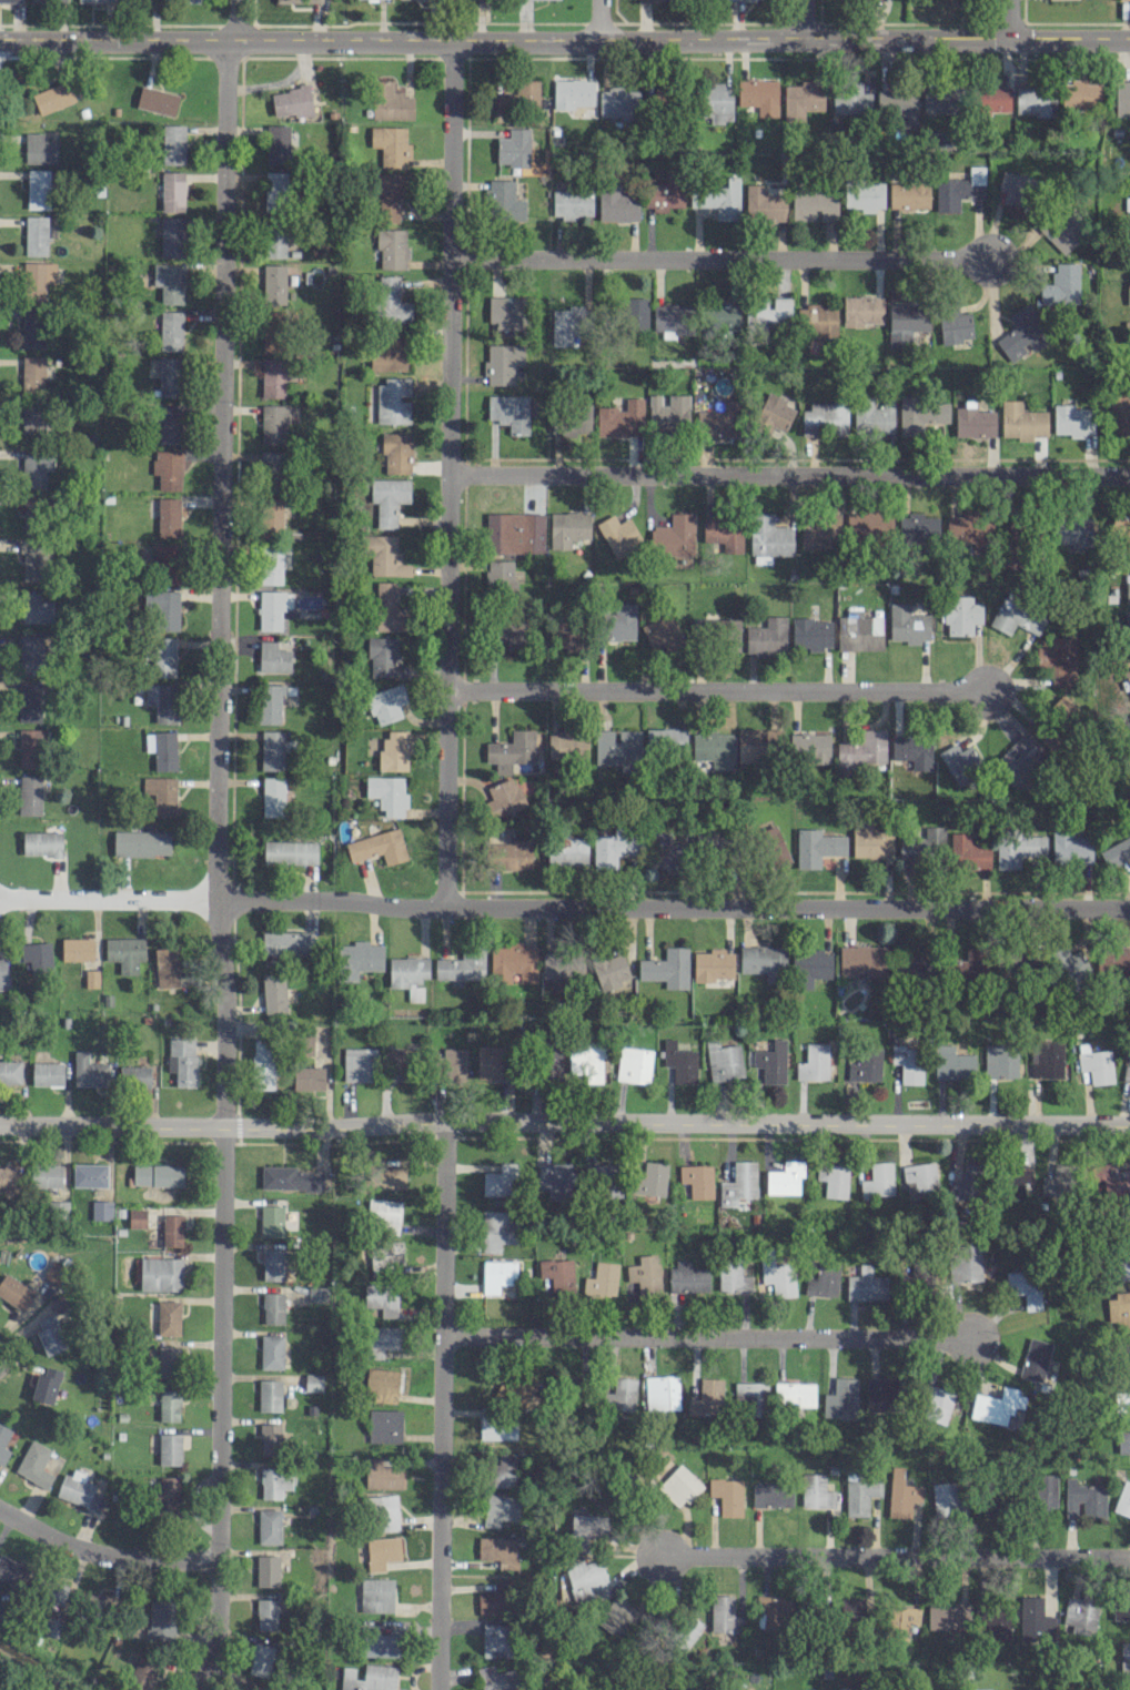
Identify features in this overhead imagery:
building: (10, 0)
building: (47, 0)
building: (93, 0)
building: (300, 0)
building: (649, 0)
building: (190, 1)
road: (1008, 20)
road: (234, 21)
road: (598, 21)
road: (807, 21)
road: (565, 42)
building: (574, 92)
building: (1080, 94)
building: (758, 95)
building: (52, 97)
building: (849, 98)
building: (990, 98)
building: (516, 99)
building: (803, 99)
building: (157, 100)
building: (616, 100)
building: (1035, 100)
building: (291, 101)
building: (390, 101)
building: (716, 101)
building: (938, 101)
building: (898, 105)
building: (172, 143)
building: (278, 143)
building: (391, 144)
building: (39, 149)
building: (514, 149)
building: (38, 189)
building: (959, 189)
building: (1016, 189)
building: (172, 191)
building: (275, 191)
building: (663, 192)
building: (908, 194)
building: (390, 195)
building: (864, 195)
building: (718, 199)
building: (504, 201)
building: (572, 203)
building: (616, 203)
building: (764, 203)
building: (1061, 230)
building: (36, 234)
building: (171, 236)
building: (391, 247)
road: (717, 260)
building: (37, 279)
building: (169, 282)
building: (274, 283)
building: (1061, 284)
building: (1128, 294)
building: (391, 301)
building: (862, 310)
building: (506, 312)
building: (767, 312)
building: (635, 313)
building: (720, 314)
building: (672, 318)
building: (817, 320)
building: (905, 322)
building: (567, 324)
building: (954, 324)
building: (33, 328)
building: (170, 330)
building: (1021, 333)
building: (271, 337)
building: (387, 354)
building: (502, 362)
building: (32, 374)
building: (275, 375)
building: (169, 376)
building: (392, 401)
building: (668, 411)
building: (509, 412)
building: (773, 413)
building: (1120, 413)
building: (872, 414)
building: (921, 414)
building: (621, 418)
building: (825, 418)
building: (569, 419)
building: (717, 419)
building: (1073, 419)
building: (973, 421)
building: (1022, 421)
building: (32, 423)
building: (168, 423)
building: (273, 423)
building: (396, 452)
building: (36, 467)
building: (168, 467)
building: (271, 468)
road: (447, 474)
road: (789, 475)
building: (389, 498)
building: (30, 512)
building: (271, 514)
building: (168, 516)
building: (868, 523)
building: (1121, 525)
building: (918, 527)
building: (567, 528)
building: (969, 529)
building: (1071, 529)
building: (819, 530)
building: (515, 533)
building: (723, 533)
building: (619, 535)
building: (674, 535)
building: (768, 537)
building: (385, 556)
building: (36, 559)
building: (165, 563)
building: (273, 563)
building: (500, 575)
building: (1127, 590)
building: (34, 607)
building: (162, 607)
building: (387, 607)
building: (273, 608)
building: (960, 615)
building: (1016, 616)
building: (619, 621)
building: (907, 624)
building: (1127, 631)
building: (511, 633)
building: (662, 633)
building: (810, 633)
building: (859, 633)
building: (729, 634)
building: (568, 635)
building: (767, 636)
building: (30, 655)
building: (162, 656)
building: (383, 656)
building: (273, 657)
building: (1059, 660)
building: (1127, 677)
road: (715, 690)
building: (159, 700)
building: (29, 701)
building: (270, 702)
building: (386, 702)
building: (1062, 705)
building: (666, 739)
building: (568, 746)
building: (617, 746)
building: (809, 746)
building: (30, 748)
building: (713, 748)
building: (161, 749)
building: (272, 749)
building: (393, 750)
building: (512, 750)
building: (861, 750)
building: (912, 750)
building: (1017, 759)
building: (959, 761)
building: (29, 793)
building: (161, 793)
building: (387, 793)
building: (272, 796)
building: (504, 798)
building: (704, 838)
building: (870, 840)
building: (141, 842)
building: (920, 842)
building: (41, 843)
building: (773, 844)
building: (377, 846)
building: (817, 847)
building: (1017, 847)
building: (1070, 847)
building: (608, 849)
building: (566, 850)
building: (290, 851)
building: (662, 851)
building: (968, 852)
building: (515, 854)
road: (216, 868)
road: (564, 907)
building: (286, 942)
building: (77, 948)
building: (124, 952)
building: (37, 955)
building: (1019, 957)
building: (357, 959)
building: (861, 959)
building: (763, 960)
building: (1112, 961)
building: (513, 962)
building: (907, 963)
building: (713, 964)
building: (968, 964)
building: (165, 967)
building: (461, 967)
building: (562, 967)
building: (810, 967)
building: (1068, 967)
building: (667, 968)
building: (612, 972)
building: (3, 974)
building: (408, 975)
building: (91, 978)
building: (273, 992)
building: (306, 1044)
building: (182, 1059)
building: (1046, 1059)
building: (396, 1060)
building: (723, 1060)
building: (549, 1061)
building: (679, 1061)
building: (771, 1061)
building: (454, 1062)
building: (490, 1062)
building: (585, 1062)
building: (813, 1062)
building: (908, 1062)
building: (1000, 1062)
building: (262, 1063)
building: (952, 1063)
building: (1096, 1063)
building: (359, 1064)
building: (634, 1064)
building: (865, 1065)
building: (10, 1071)
building: (89, 1071)
building: (47, 1073)
building: (1126, 1073)
building: (134, 1076)
building: (309, 1077)
road: (564, 1124)
building: (89, 1174)
building: (158, 1174)
building: (9, 1175)
building: (47, 1175)
building: (390, 1177)
building: (785, 1177)
building: (290, 1178)
building: (833, 1178)
building: (919, 1178)
building: (500, 1180)
building: (557, 1180)
building: (650, 1180)
building: (697, 1180)
building: (877, 1180)
building: (1015, 1180)
building: (602, 1181)
building: (738, 1182)
building: (965, 1183)
building: (58, 1207)
building: (101, 1210)
building: (384, 1215)
building: (137, 1217)
building: (271, 1220)
building: (172, 1229)
building: (496, 1229)
building: (376, 1261)
building: (965, 1261)
building: (272, 1263)
building: (1121, 1263)
building: (160, 1274)
building: (497, 1274)
building: (558, 1274)
building: (645, 1274)
building: (732, 1276)
building: (778, 1276)
building: (921, 1276)
building: (687, 1277)
building: (602, 1279)
building: (823, 1279)
building: (866, 1284)
building: (1025, 1286)
building: (14, 1292)
building: (316, 1294)
building: (382, 1297)
building: (273, 1307)
building: (1119, 1308)
building: (168, 1317)
building: (49, 1334)
road: (710, 1338)
building: (382, 1339)
building: (271, 1350)
building: (1126, 1353)
building: (1035, 1358)
building: (168, 1360)
building: (313, 1382)
building: (381, 1384)
building: (46, 1385)
building: (880, 1389)
building: (517, 1390)
building: (662, 1392)
building: (794, 1393)
building: (621, 1394)
building: (269, 1395)
building: (839, 1396)
building: (750, 1397)
building: (1121, 1397)
building: (706, 1398)
building: (169, 1404)
building: (935, 1404)
building: (996, 1405)
road: (446, 1407)
building: (497, 1424)
building: (384, 1426)
building: (270, 1438)
building: (3, 1441)
building: (1123, 1441)
building: (169, 1448)
building: (34, 1464)
building: (502, 1470)
building: (382, 1474)
building: (271, 1481)
building: (678, 1485)
building: (1045, 1489)
building: (81, 1490)
building: (816, 1490)
building: (860, 1492)
building: (771, 1494)
building: (901, 1494)
building: (727, 1495)
building: (1083, 1498)
building: (1123, 1499)
building: (946, 1500)
building: (500, 1508)
building: (589, 1525)
building: (269, 1526)
building: (498, 1550)
building: (382, 1551)
road: (104, 1554)
road: (895, 1556)
building: (10, 1570)
building: (266, 1570)
building: (586, 1580)
building: (56, 1592)
building: (376, 1595)
building: (494, 1599)
building: (102, 1603)
building: (851, 1608)
building: (1121, 1608)
building: (771, 1611)
building: (266, 1613)
building: (724, 1613)
building: (615, 1615)
building: (1080, 1615)
building: (947, 1616)
building: (900, 1617)
building: (160, 1619)
building: (1035, 1619)
building: (993, 1620)
building: (688, 1633)
building: (495, 1640)
building: (379, 1641)
building: (260, 1659)
building: (1124, 1659)
building: (142, 1673)
building: (369, 1678)
building: (497, 1678)
building: (246, 1687)
building: (668, 1689)
building: (979, 1689)

